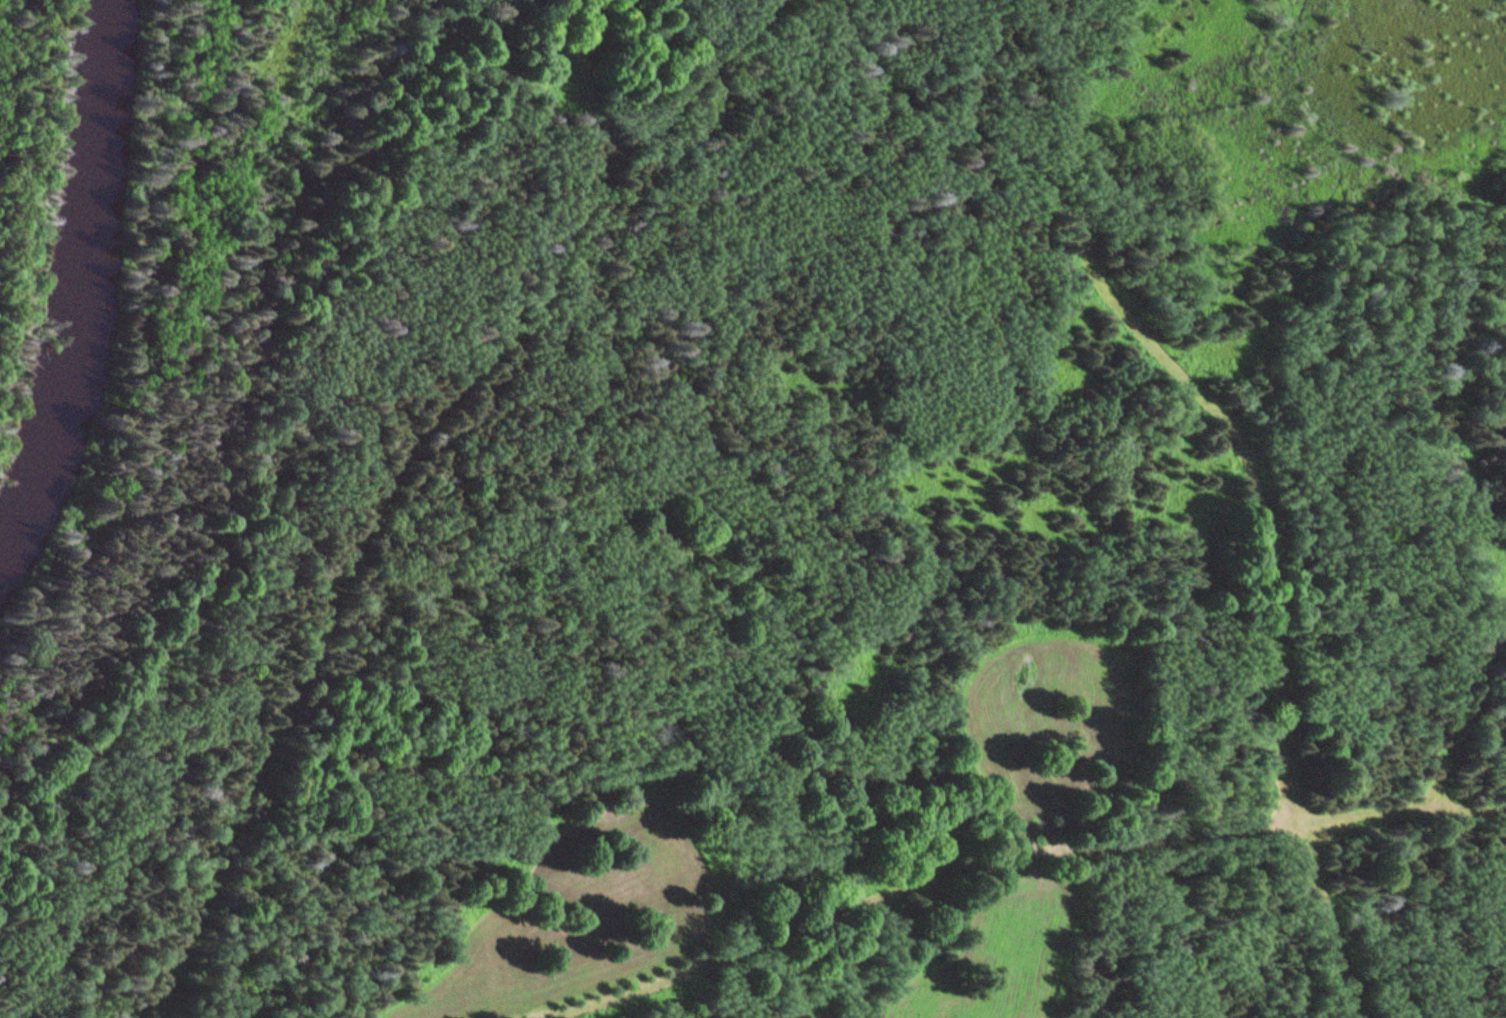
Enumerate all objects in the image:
river: (75, 280)

